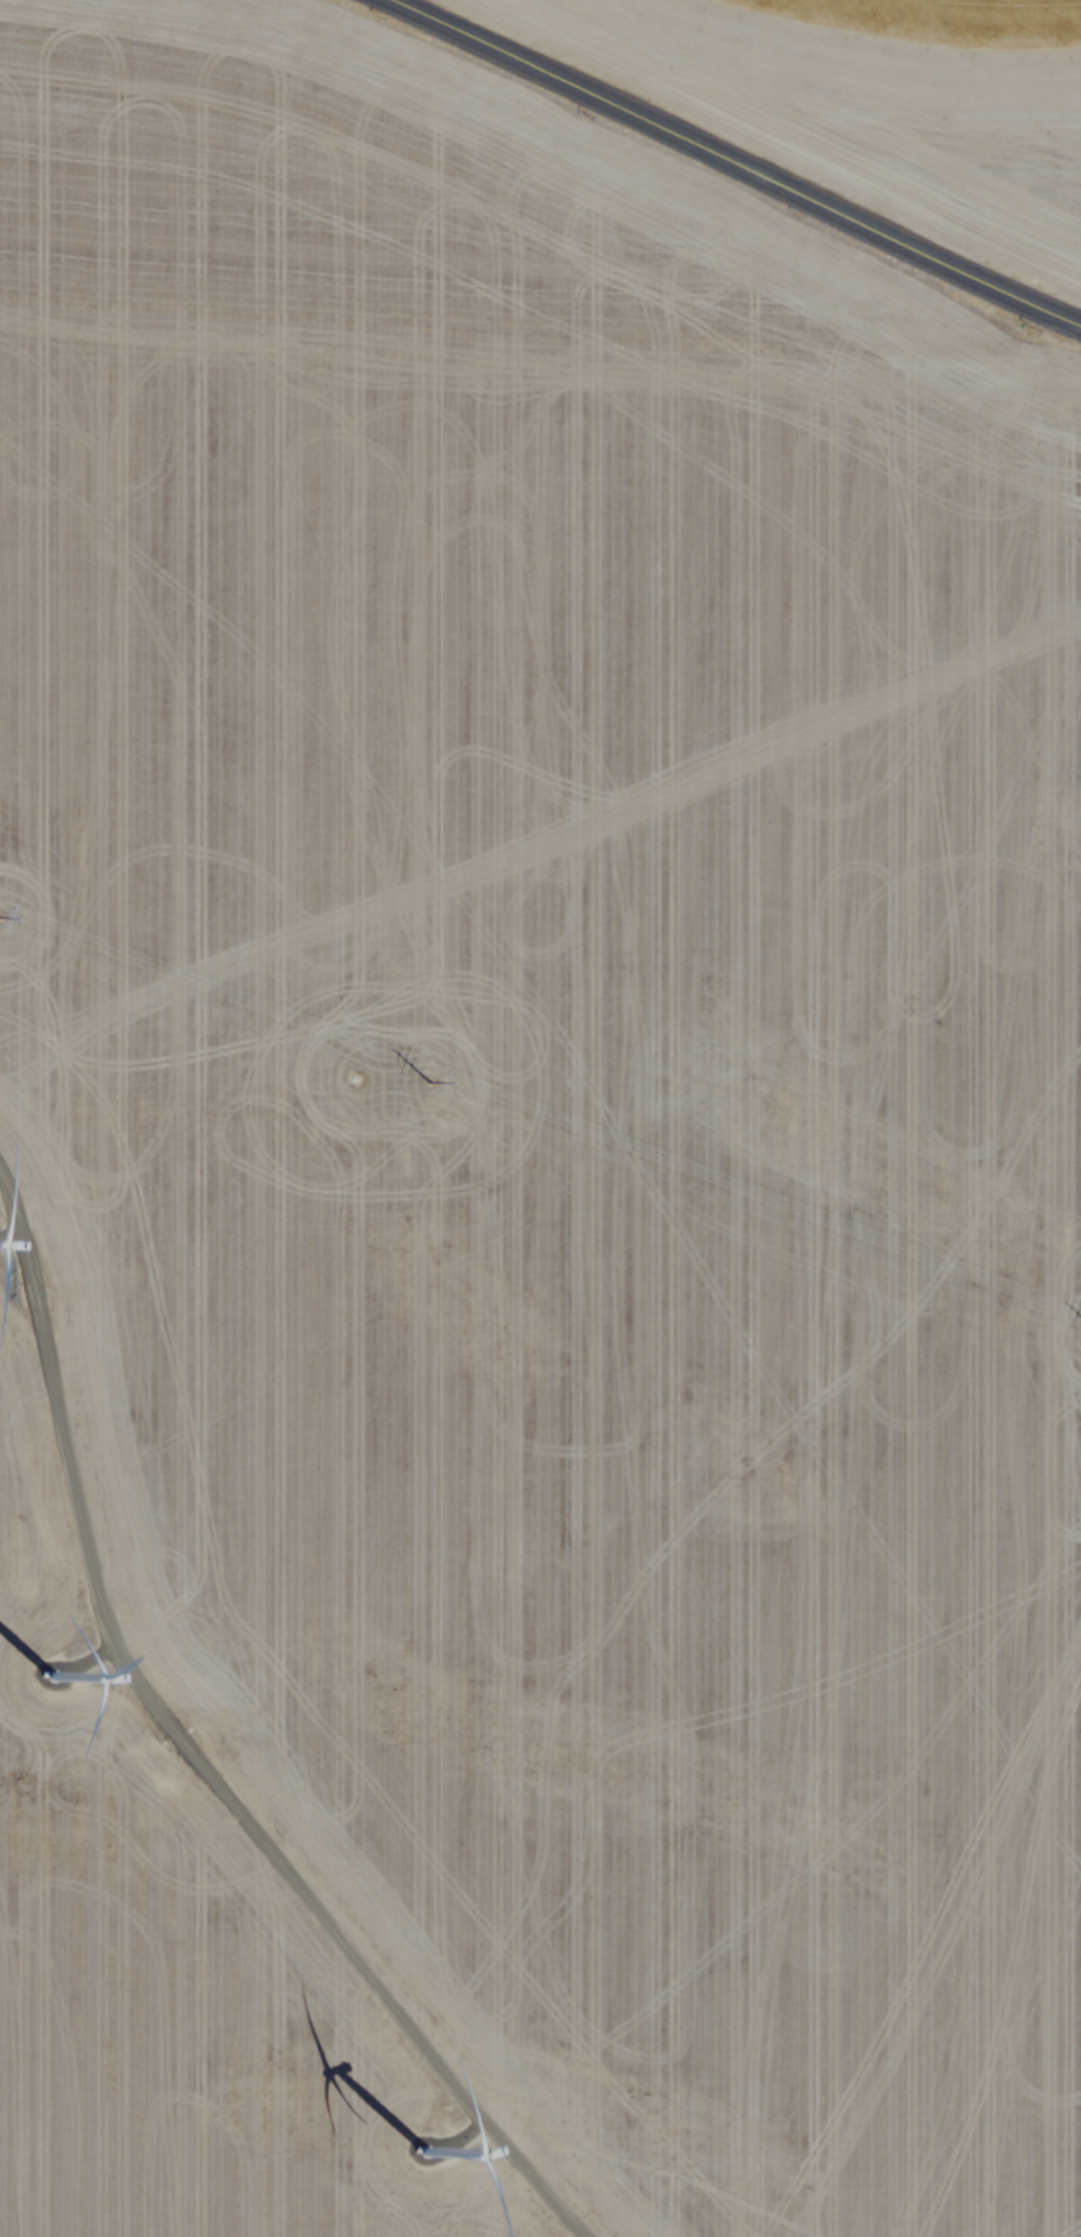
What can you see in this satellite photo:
road: (741, 159)
power tower: (427, 1077)
wind turbine: (53, 1679)
road: (197, 1752)
wind turbine: (427, 2156)

